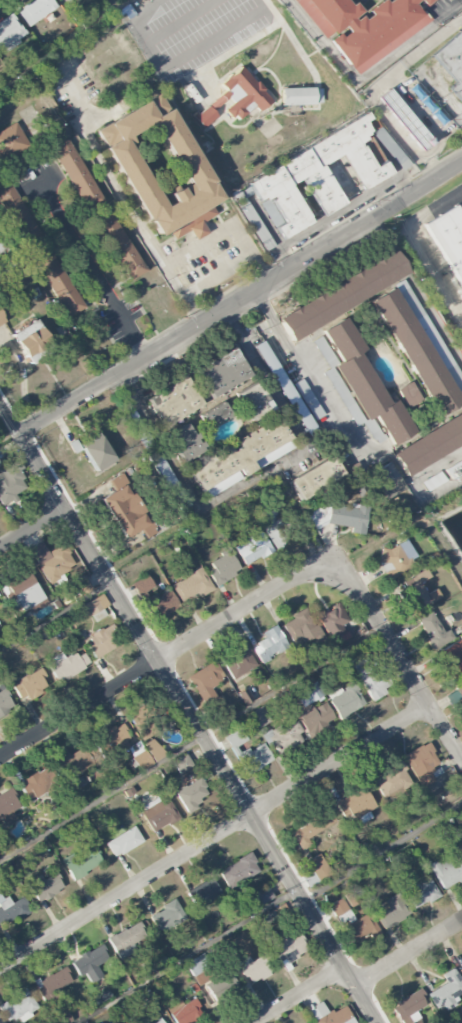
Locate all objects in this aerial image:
building: (426, 0)
building: (36, 10)
building: (365, 26)
building: (9, 31)
road: (431, 41)
road: (59, 44)
building: (452, 61)
road: (368, 72)
building: (301, 96)
building: (235, 98)
road: (422, 113)
building: (404, 119)
road: (388, 121)
building: (12, 141)
road: (387, 160)
building: (160, 169)
building: (76, 174)
building: (310, 178)
road: (337, 212)
building: (20, 216)
road: (267, 227)
road: (141, 230)
road: (421, 238)
building: (448, 240)
building: (118, 244)
building: (8, 258)
road: (91, 265)
building: (59, 281)
road: (418, 283)
road: (240, 295)
building: (343, 295)
road: (180, 296)
building: (1, 320)
building: (32, 342)
building: (417, 351)
building: (222, 373)
building: (363, 382)
building: (410, 394)
building: (253, 401)
building: (175, 402)
building: (215, 415)
road: (344, 425)
building: (368, 426)
road: (9, 436)
building: (185, 443)
building: (429, 445)
building: (96, 452)
building: (242, 457)
building: (165, 470)
road: (253, 476)
building: (313, 479)
building: (387, 480)
building: (10, 483)
building: (126, 508)
building: (339, 517)
road: (33, 528)
road: (149, 542)
building: (253, 548)
building: (395, 559)
building: (52, 560)
road: (344, 566)
building: (223, 567)
building: (192, 585)
building: (81, 586)
building: (416, 591)
building: (25, 593)
building: (154, 600)
building: (96, 607)
road: (56, 619)
building: (332, 621)
building: (301, 628)
building: (433, 630)
building: (101, 642)
building: (269, 644)
road: (396, 648)
building: (451, 659)
building: (238, 660)
road: (154, 664)
building: (66, 665)
building: (369, 677)
building: (206, 680)
building: (29, 685)
building: (459, 689)
building: (306, 694)
building: (345, 700)
building: (4, 703)
road: (188, 711)
building: (259, 717)
building: (314, 717)
building: (140, 725)
building: (283, 737)
road: (191, 743)
building: (125, 746)
building: (153, 749)
building: (247, 752)
building: (77, 762)
building: (182, 763)
building: (423, 764)
building: (392, 783)
building: (35, 785)
building: (191, 793)
building: (357, 804)
building: (7, 808)
building: (157, 814)
building: (459, 820)
building: (312, 828)
road: (215, 838)
building: (123, 840)
building: (460, 847)
road: (382, 853)
building: (81, 863)
building: (317, 867)
building: (238, 870)
building: (448, 872)
building: (45, 887)
building: (203, 892)
building: (421, 892)
building: (262, 895)
building: (11, 909)
building: (392, 911)
building: (167, 915)
building: (353, 922)
building: (125, 940)
building: (285, 946)
road: (188, 955)
road: (409, 955)
building: (89, 963)
building: (253, 969)
building: (460, 971)
building: (211, 980)
building: (53, 984)
building: (446, 991)
road: (299, 996)
building: (19, 1006)
building: (409, 1008)
building: (184, 1011)
building: (330, 1015)
building: (1, 1021)
building: (157, 1021)
building: (146, 1022)

